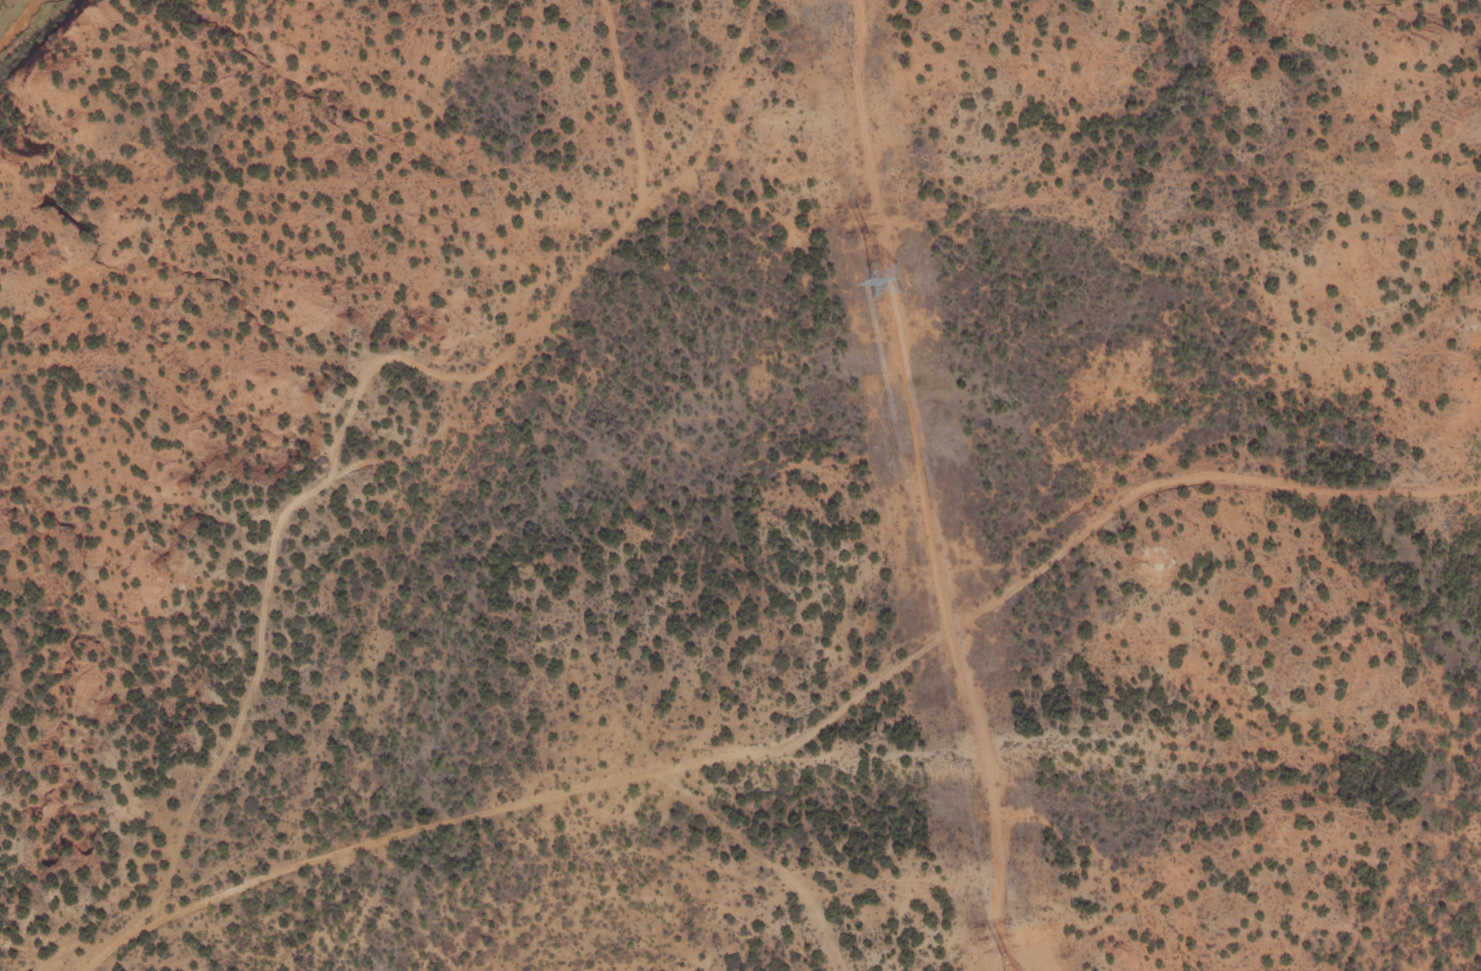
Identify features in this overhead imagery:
river: (0, 0)
power tower: (889, 282)
road: (347, 455)
road: (829, 697)

